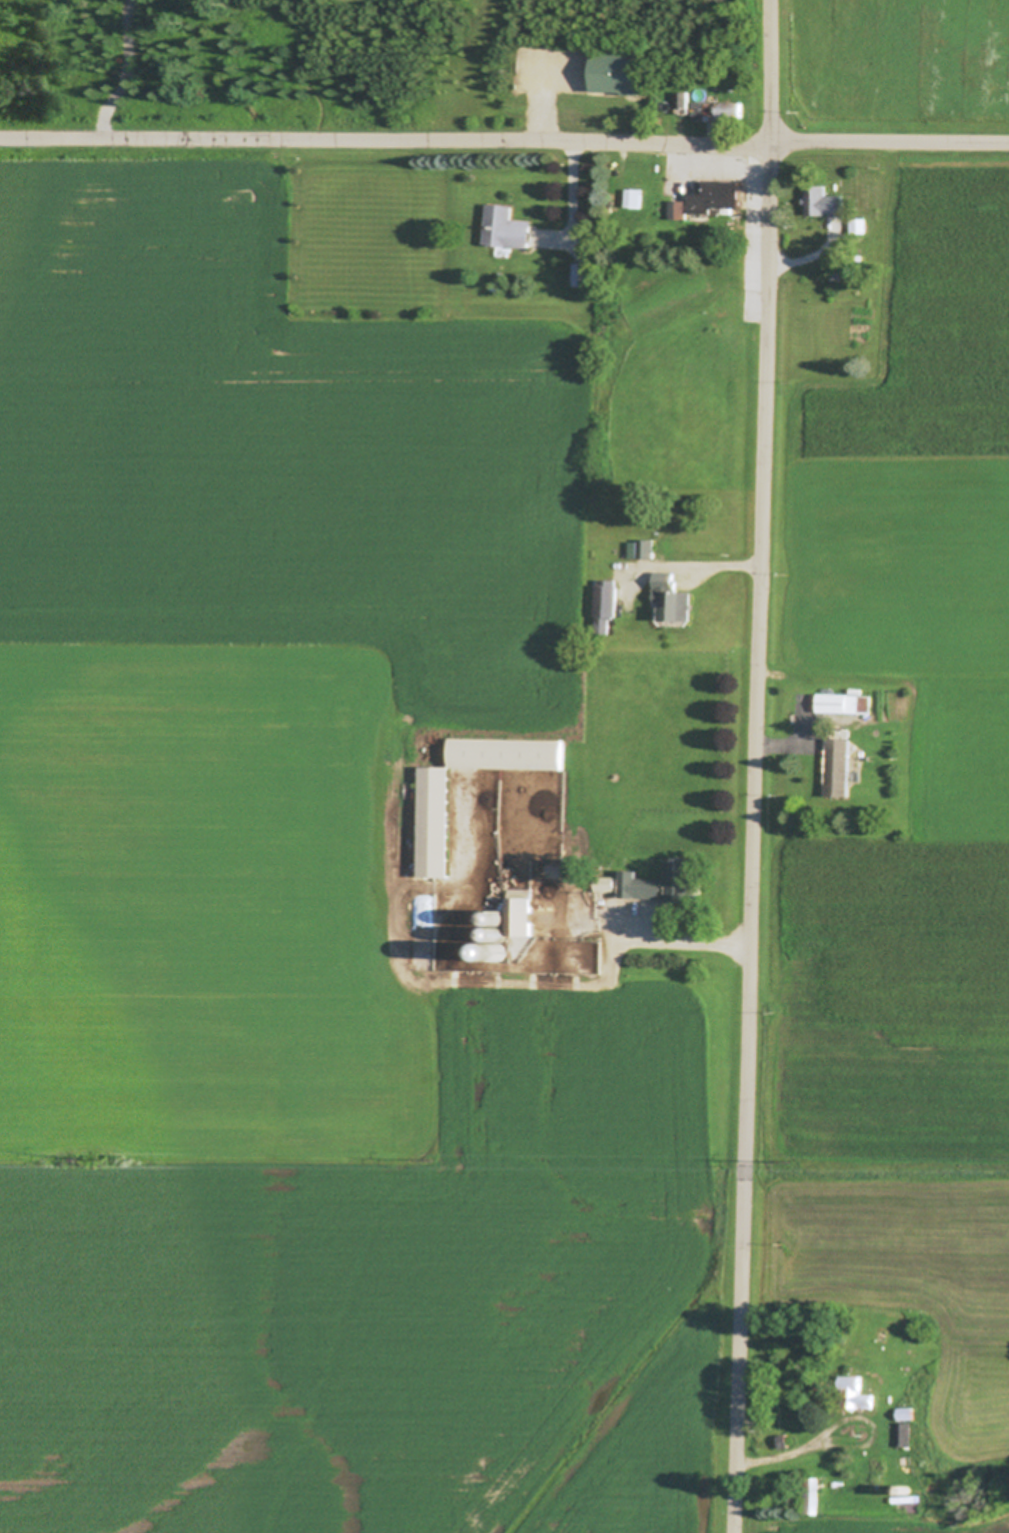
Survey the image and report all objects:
building: (620, 74)
building: (684, 99)
building: (717, 109)
road: (504, 143)
building: (710, 197)
building: (635, 198)
building: (824, 200)
building: (860, 223)
building: (508, 227)
building: (585, 274)
building: (644, 548)
building: (610, 564)
building: (673, 596)
building: (607, 603)
building: (845, 702)
building: (818, 734)
building: (509, 752)
road: (757, 766)
building: (839, 766)
building: (437, 821)
building: (667, 881)
building: (609, 883)
building: (521, 915)
building: (501, 920)
building: (423, 932)
building: (501, 935)
building: (671, 943)
building: (500, 952)
power tower: (80, 1160)
power tower: (434, 1162)
power tower: (789, 1162)
building: (856, 1393)
building: (906, 1413)
building: (903, 1435)
building: (774, 1441)
building: (905, 1489)
building: (811, 1495)

